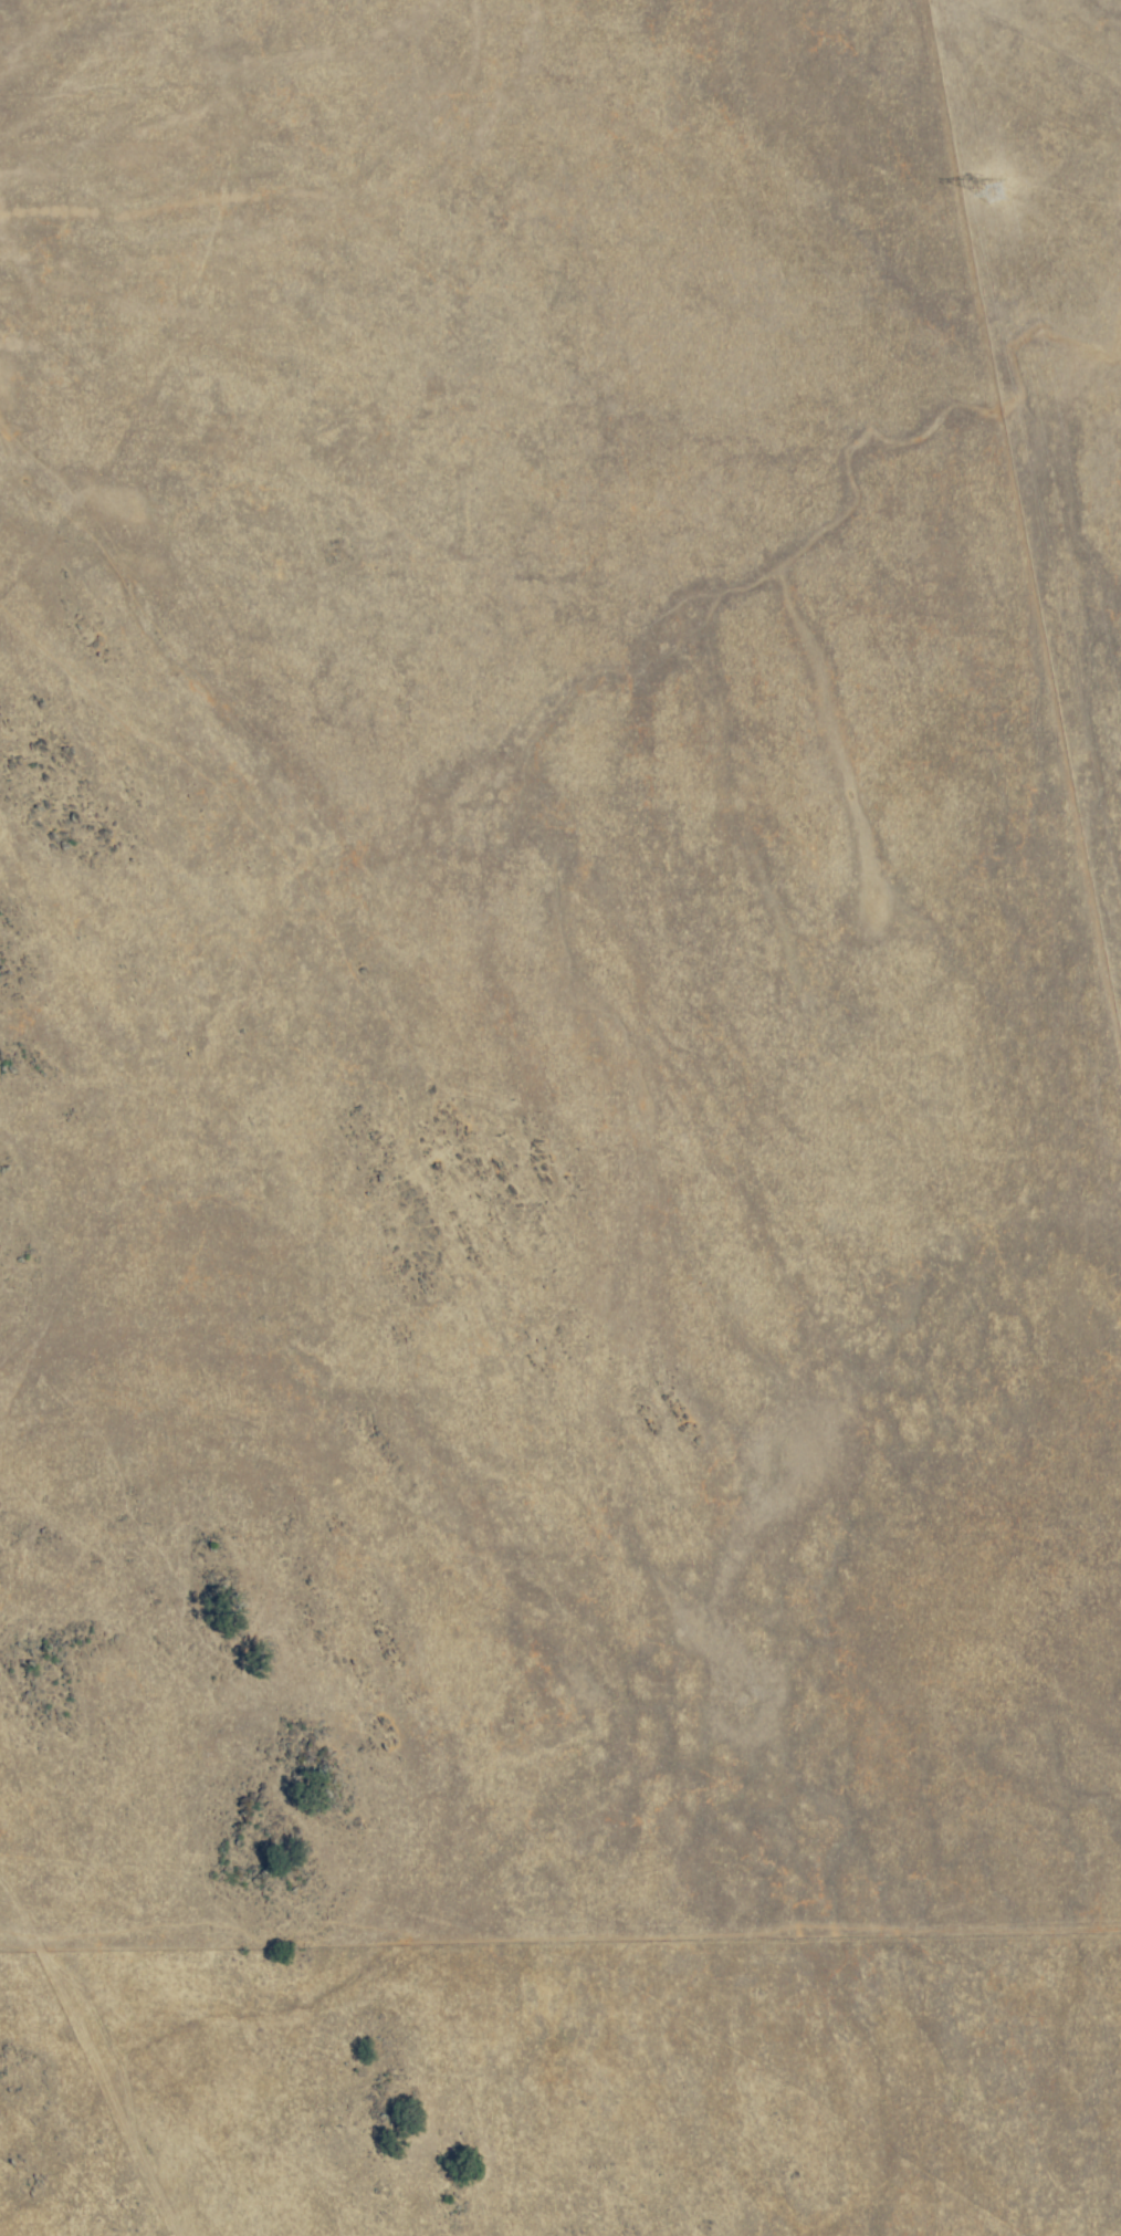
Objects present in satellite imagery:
power tower: (1007, 205)
road: (112, 2062)

